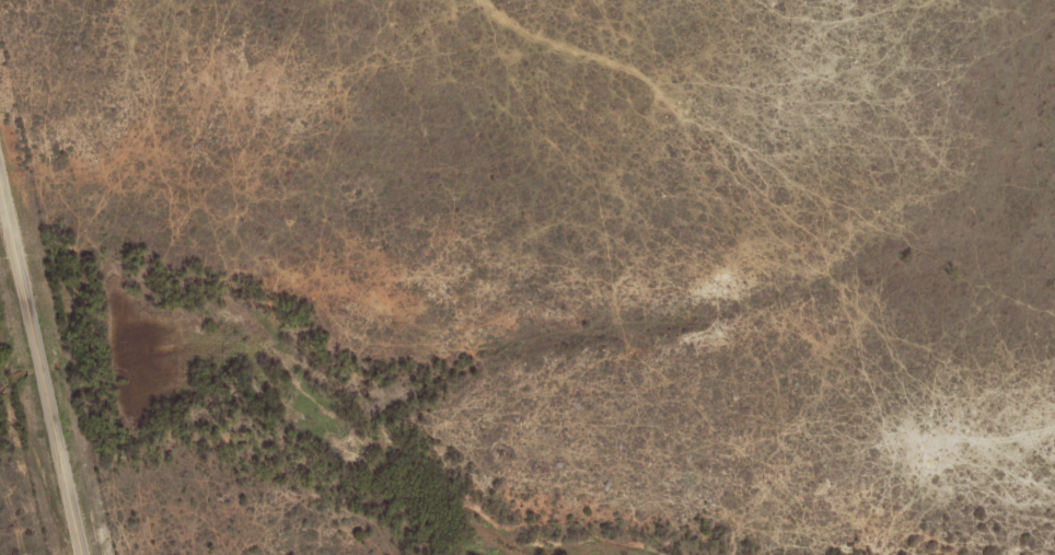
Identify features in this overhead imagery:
road: (38, 380)

